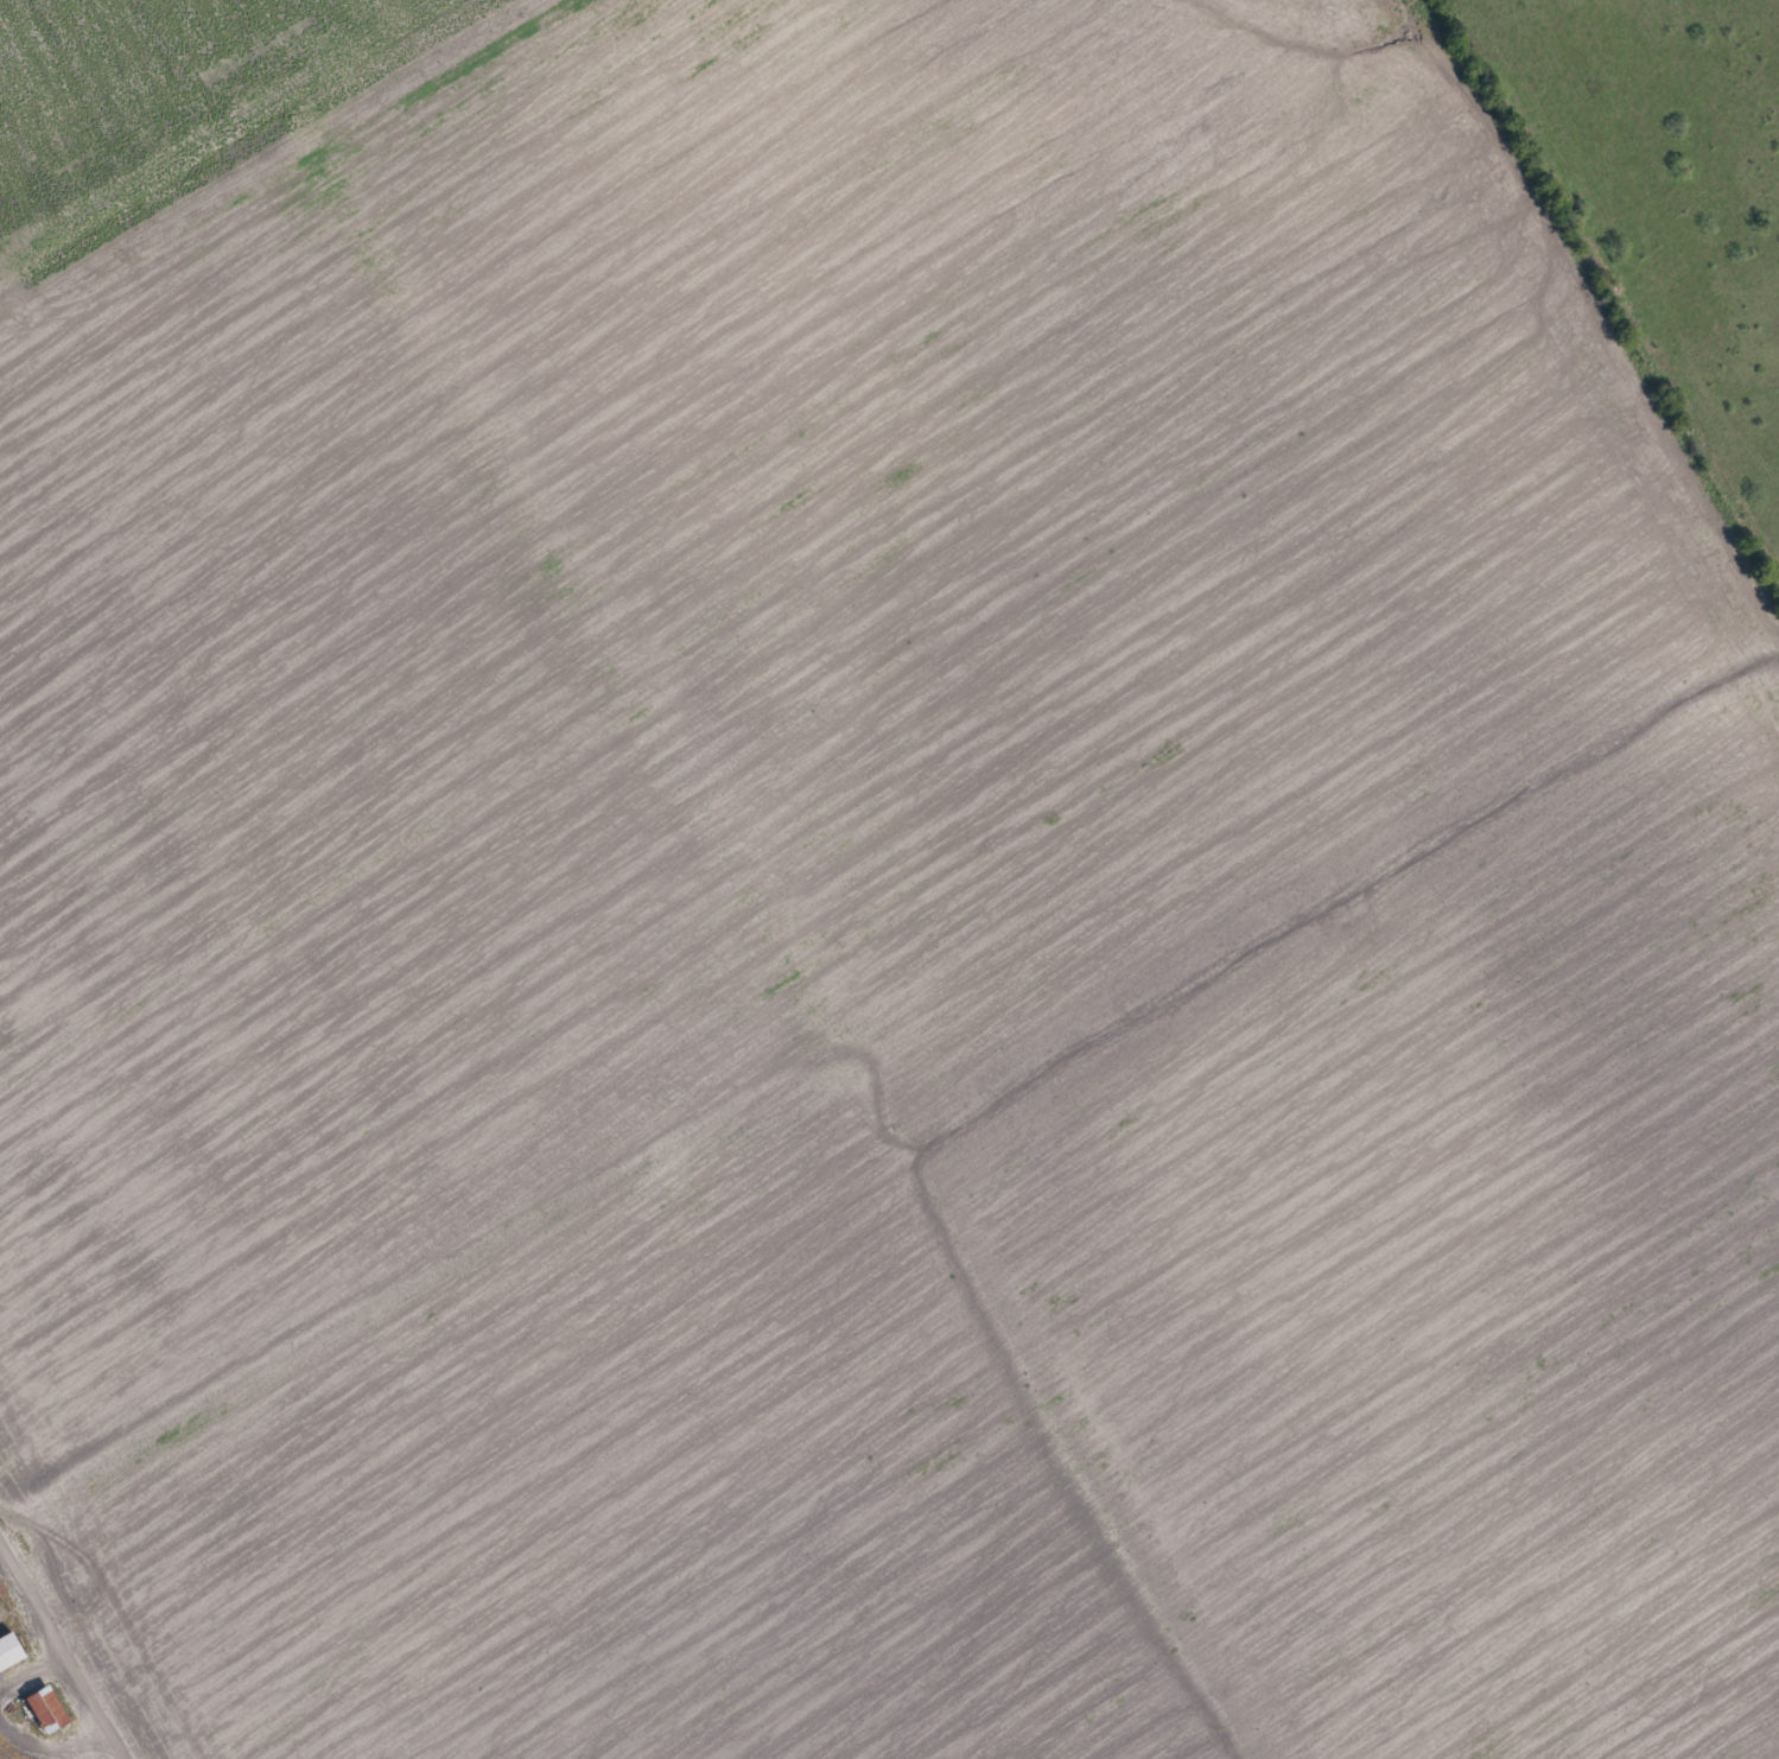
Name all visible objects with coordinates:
building: (1, 1609)
road: (66, 1640)
building: (11, 1651)
building: (50, 1710)

